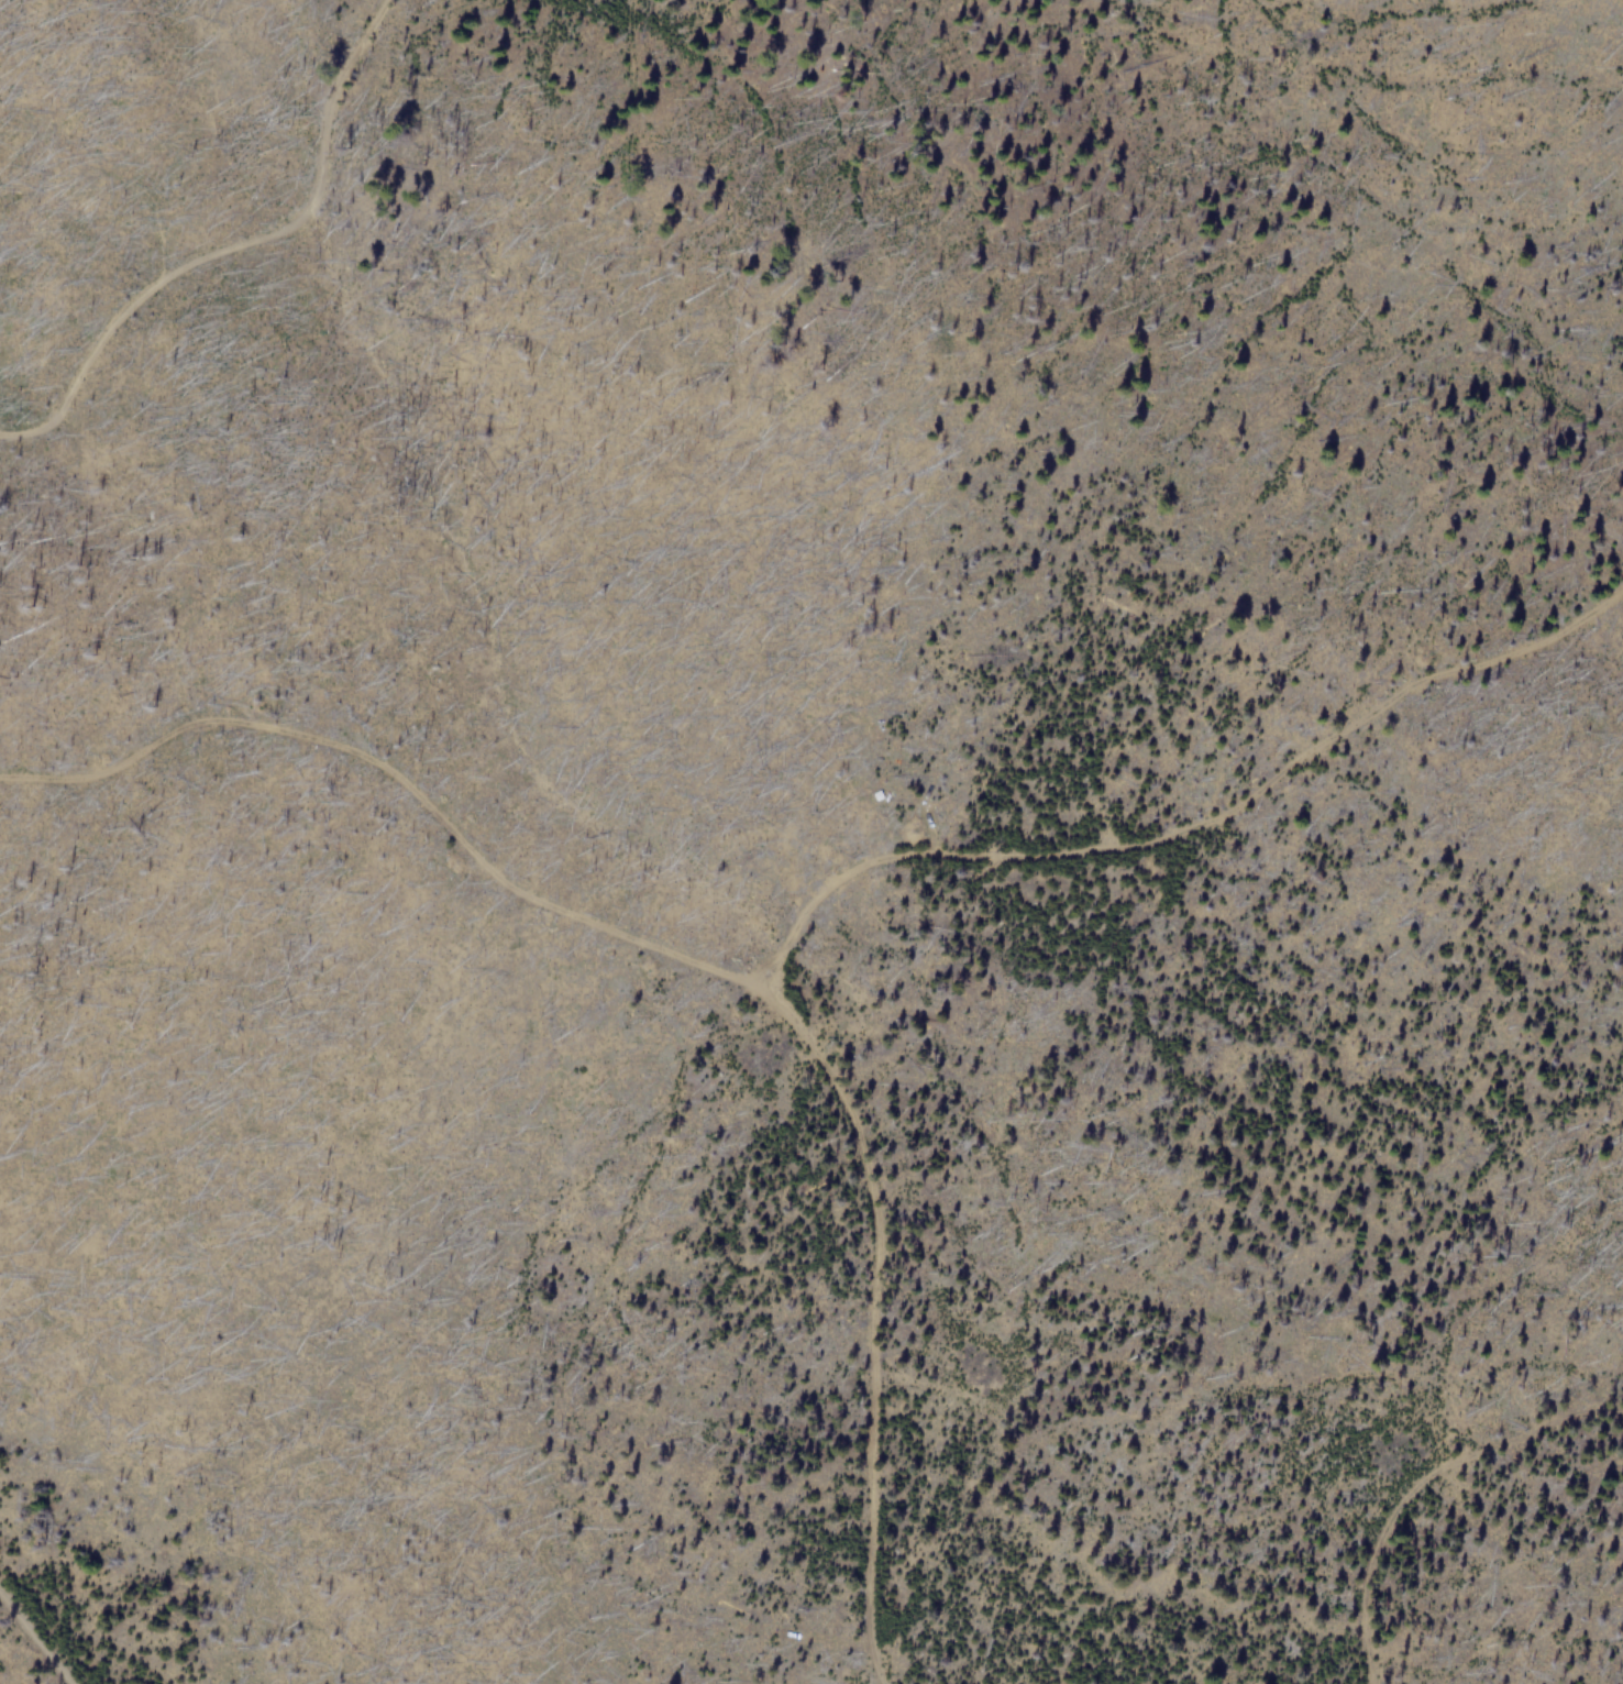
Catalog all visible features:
road: (229, 249)
road: (1191, 828)
road: (703, 965)
road: (1422, 1481)
road: (35, 1638)

